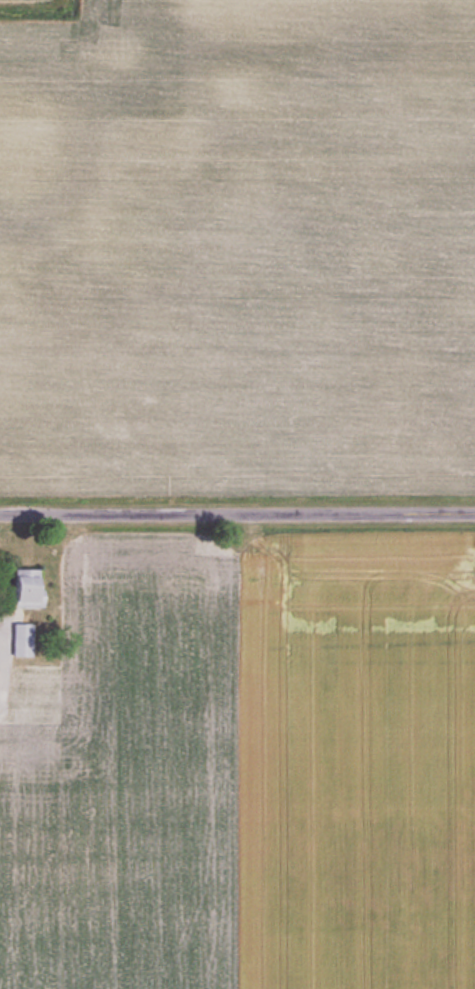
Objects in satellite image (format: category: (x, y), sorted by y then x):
road: (237, 512)
building: (25, 587)
building: (21, 639)

